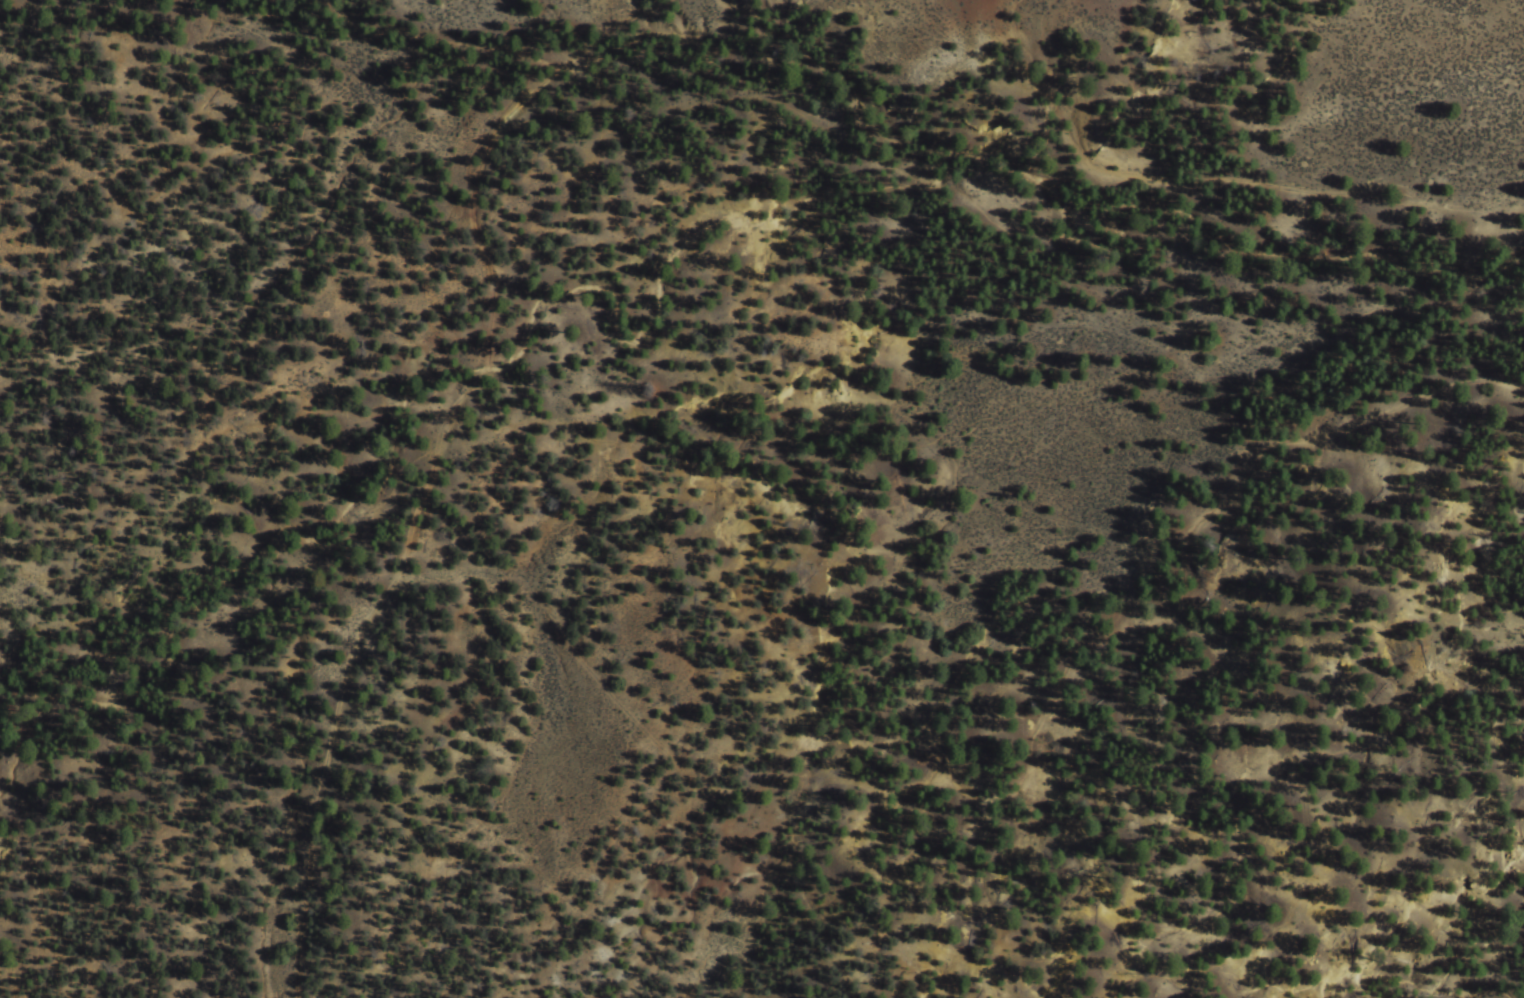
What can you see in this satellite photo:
road: (363, 467)

